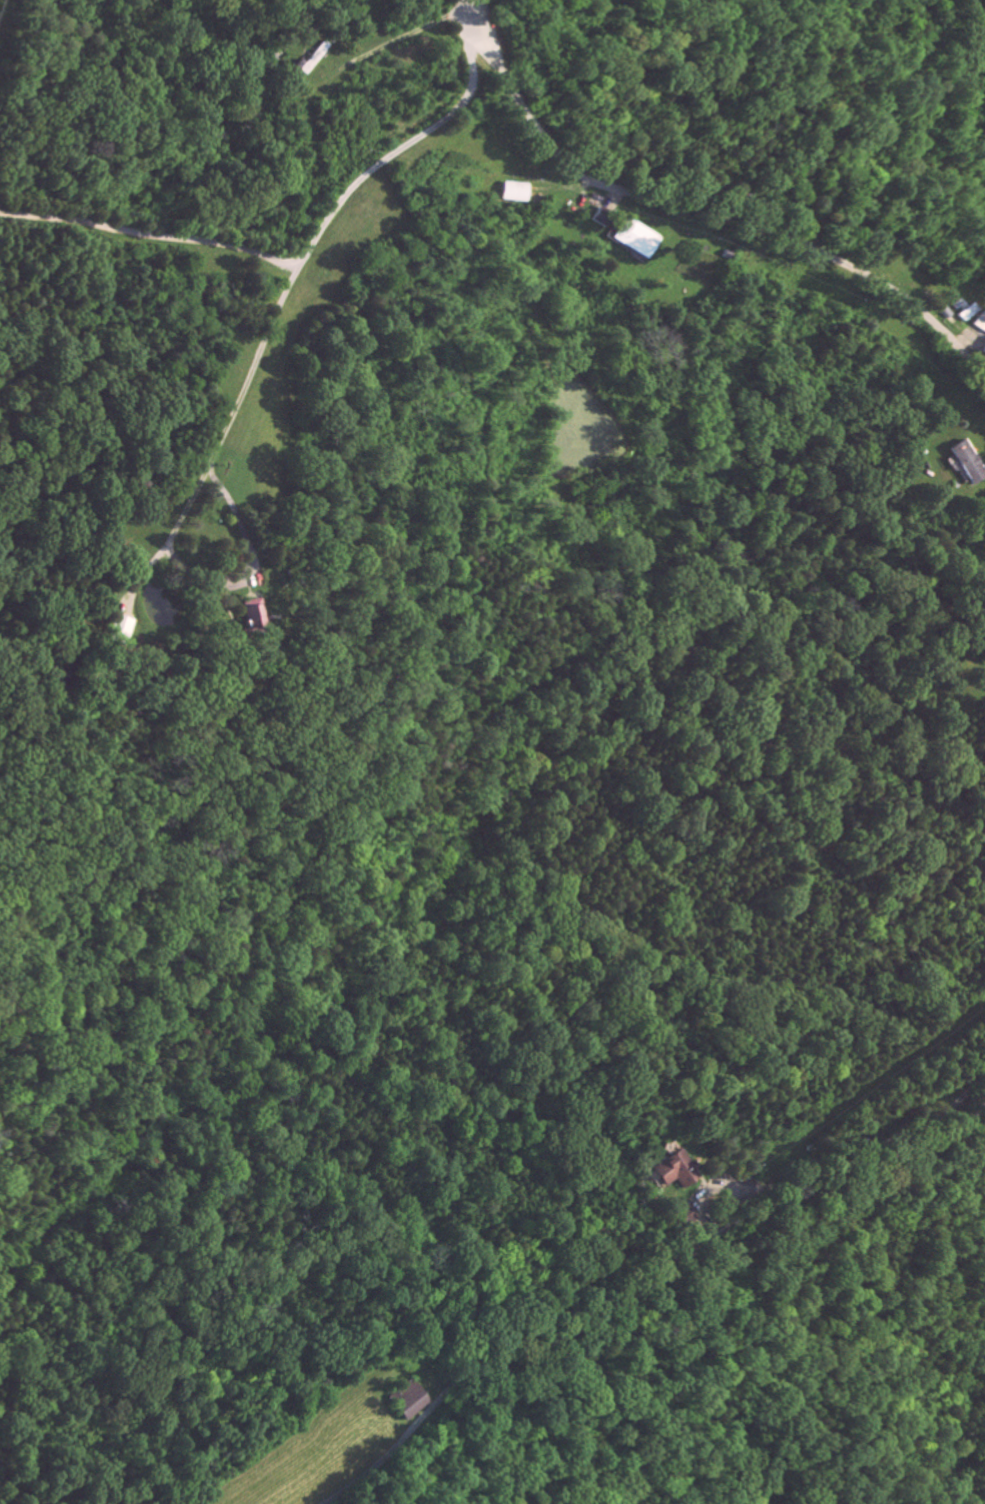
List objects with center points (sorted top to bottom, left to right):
road: (475, 10)
road: (400, 149)
road: (710, 217)
road: (150, 233)
building: (639, 237)
building: (978, 320)
building: (984, 347)
road: (232, 408)
building: (971, 459)
road: (254, 564)
road: (867, 1150)
building: (674, 1168)
road: (642, 1286)
road: (714, 1308)

